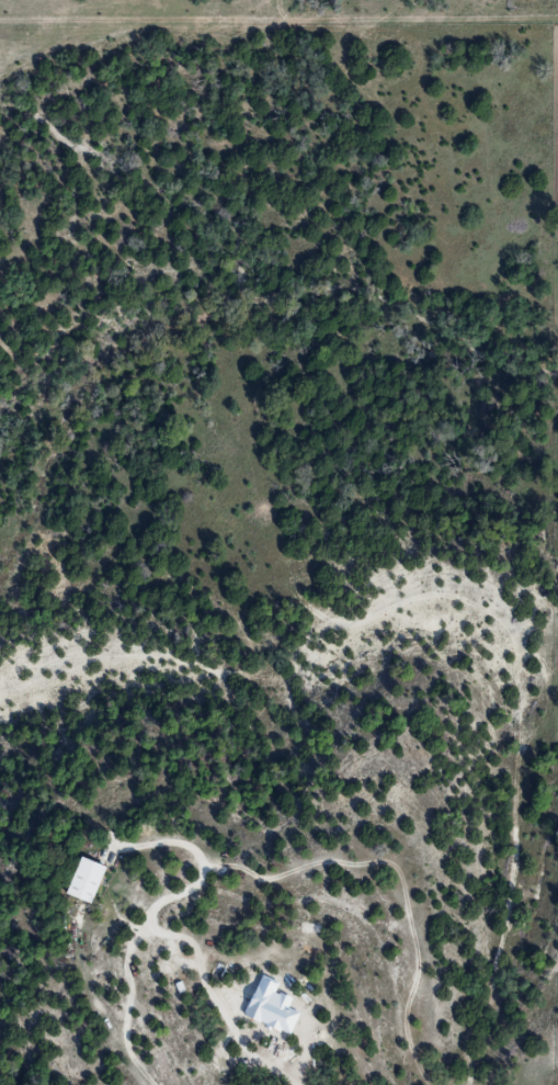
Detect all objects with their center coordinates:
building: (95, 881)

